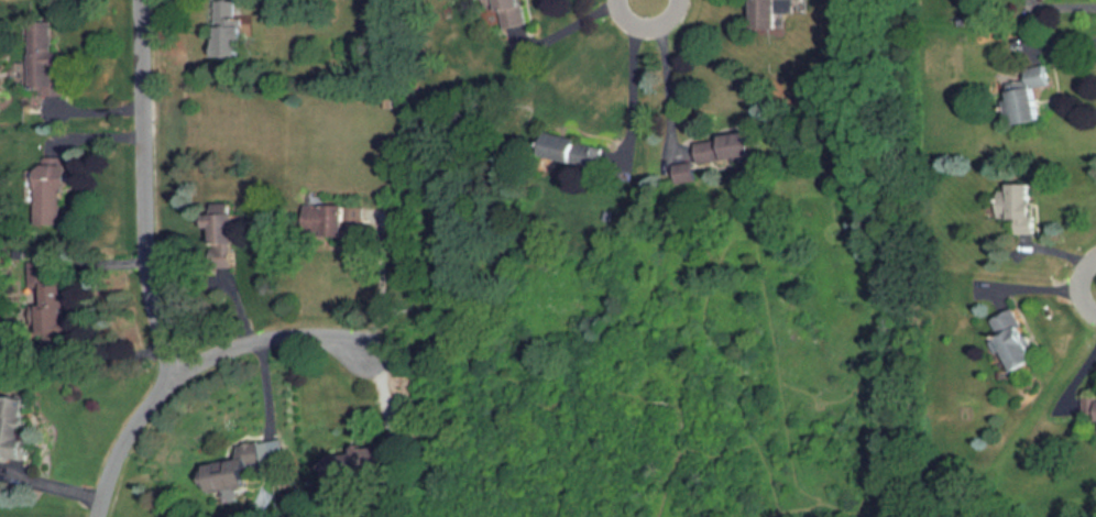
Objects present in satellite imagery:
road: (1064, 7)
building: (777, 12)
building: (509, 13)
road: (578, 25)
building: (230, 30)
building: (45, 57)
road: (662, 69)
road: (634, 76)
building: (1030, 96)
building: (728, 150)
building: (684, 168)
road: (149, 189)
building: (1020, 208)
building: (330, 221)
building: (226, 237)
road: (382, 284)
road: (1039, 284)
road: (83, 310)
building: (1017, 339)
road: (196, 366)
road: (265, 395)
building: (1092, 404)
building: (17, 429)
building: (357, 463)
building: (240, 472)

